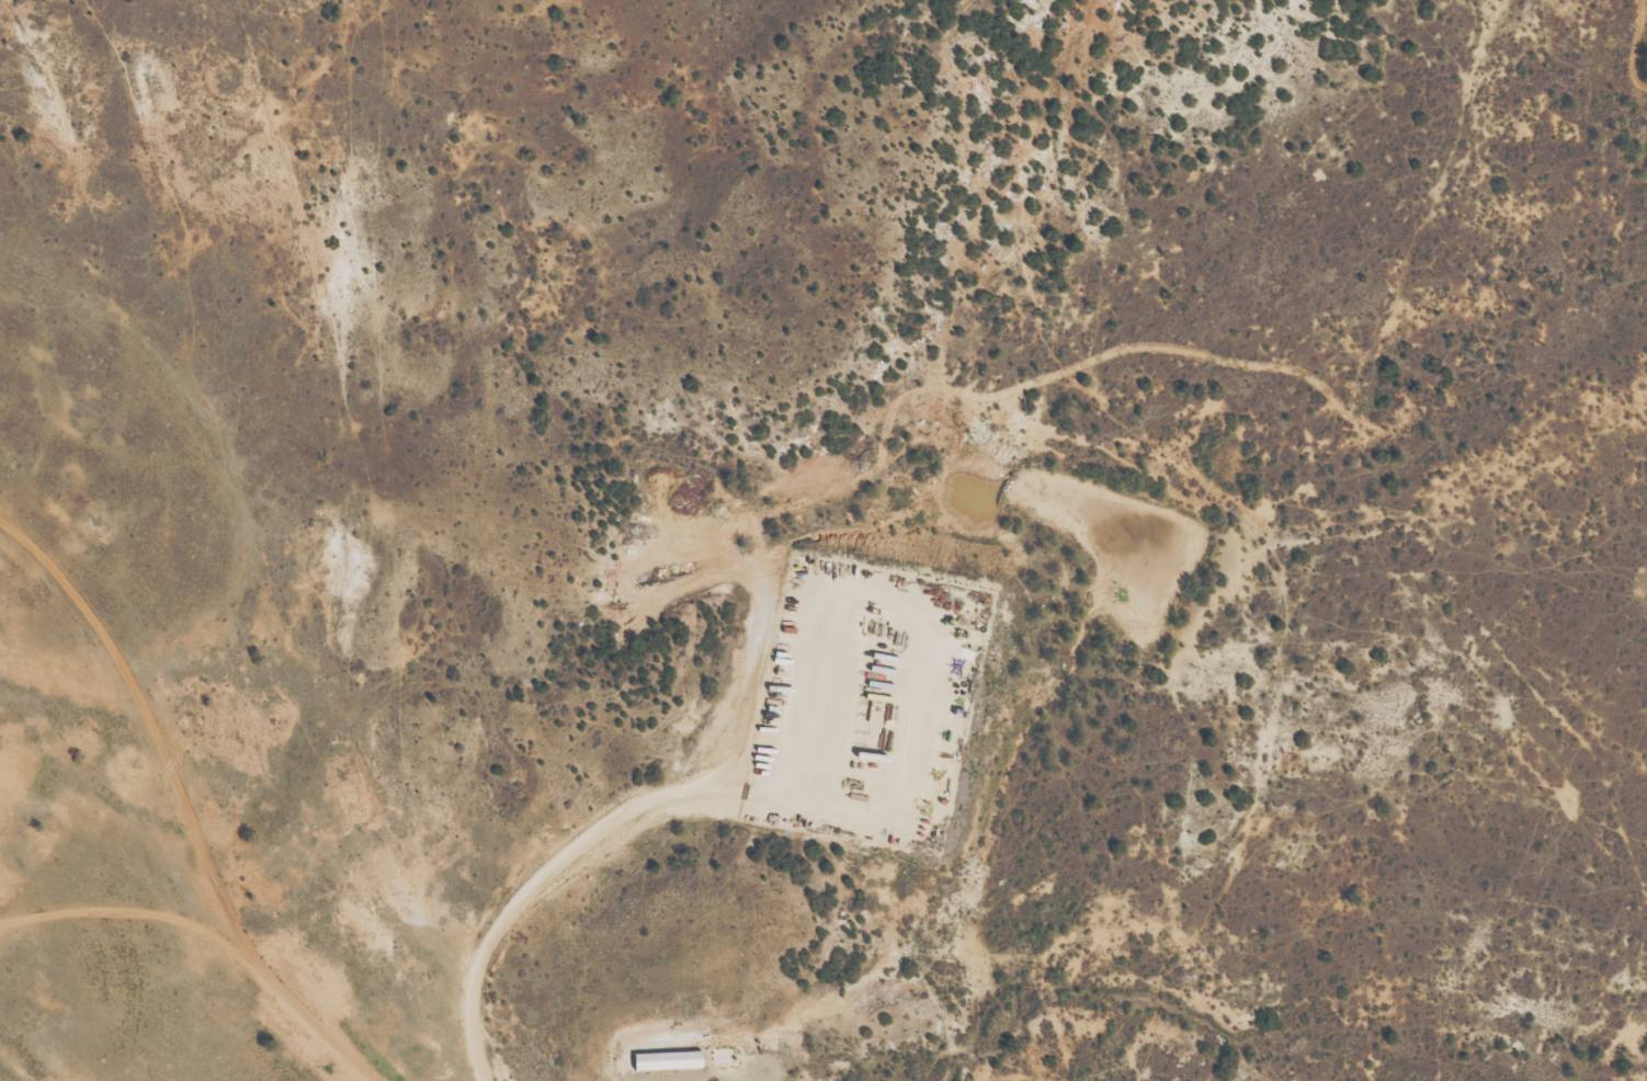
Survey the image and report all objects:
road: (917, 626)
road: (169, 748)
road: (552, 868)
road: (163, 918)
road: (344, 1042)
building: (670, 1060)
road: (732, 1074)
parking lot: (677, 1077)
road: (705, 1079)

